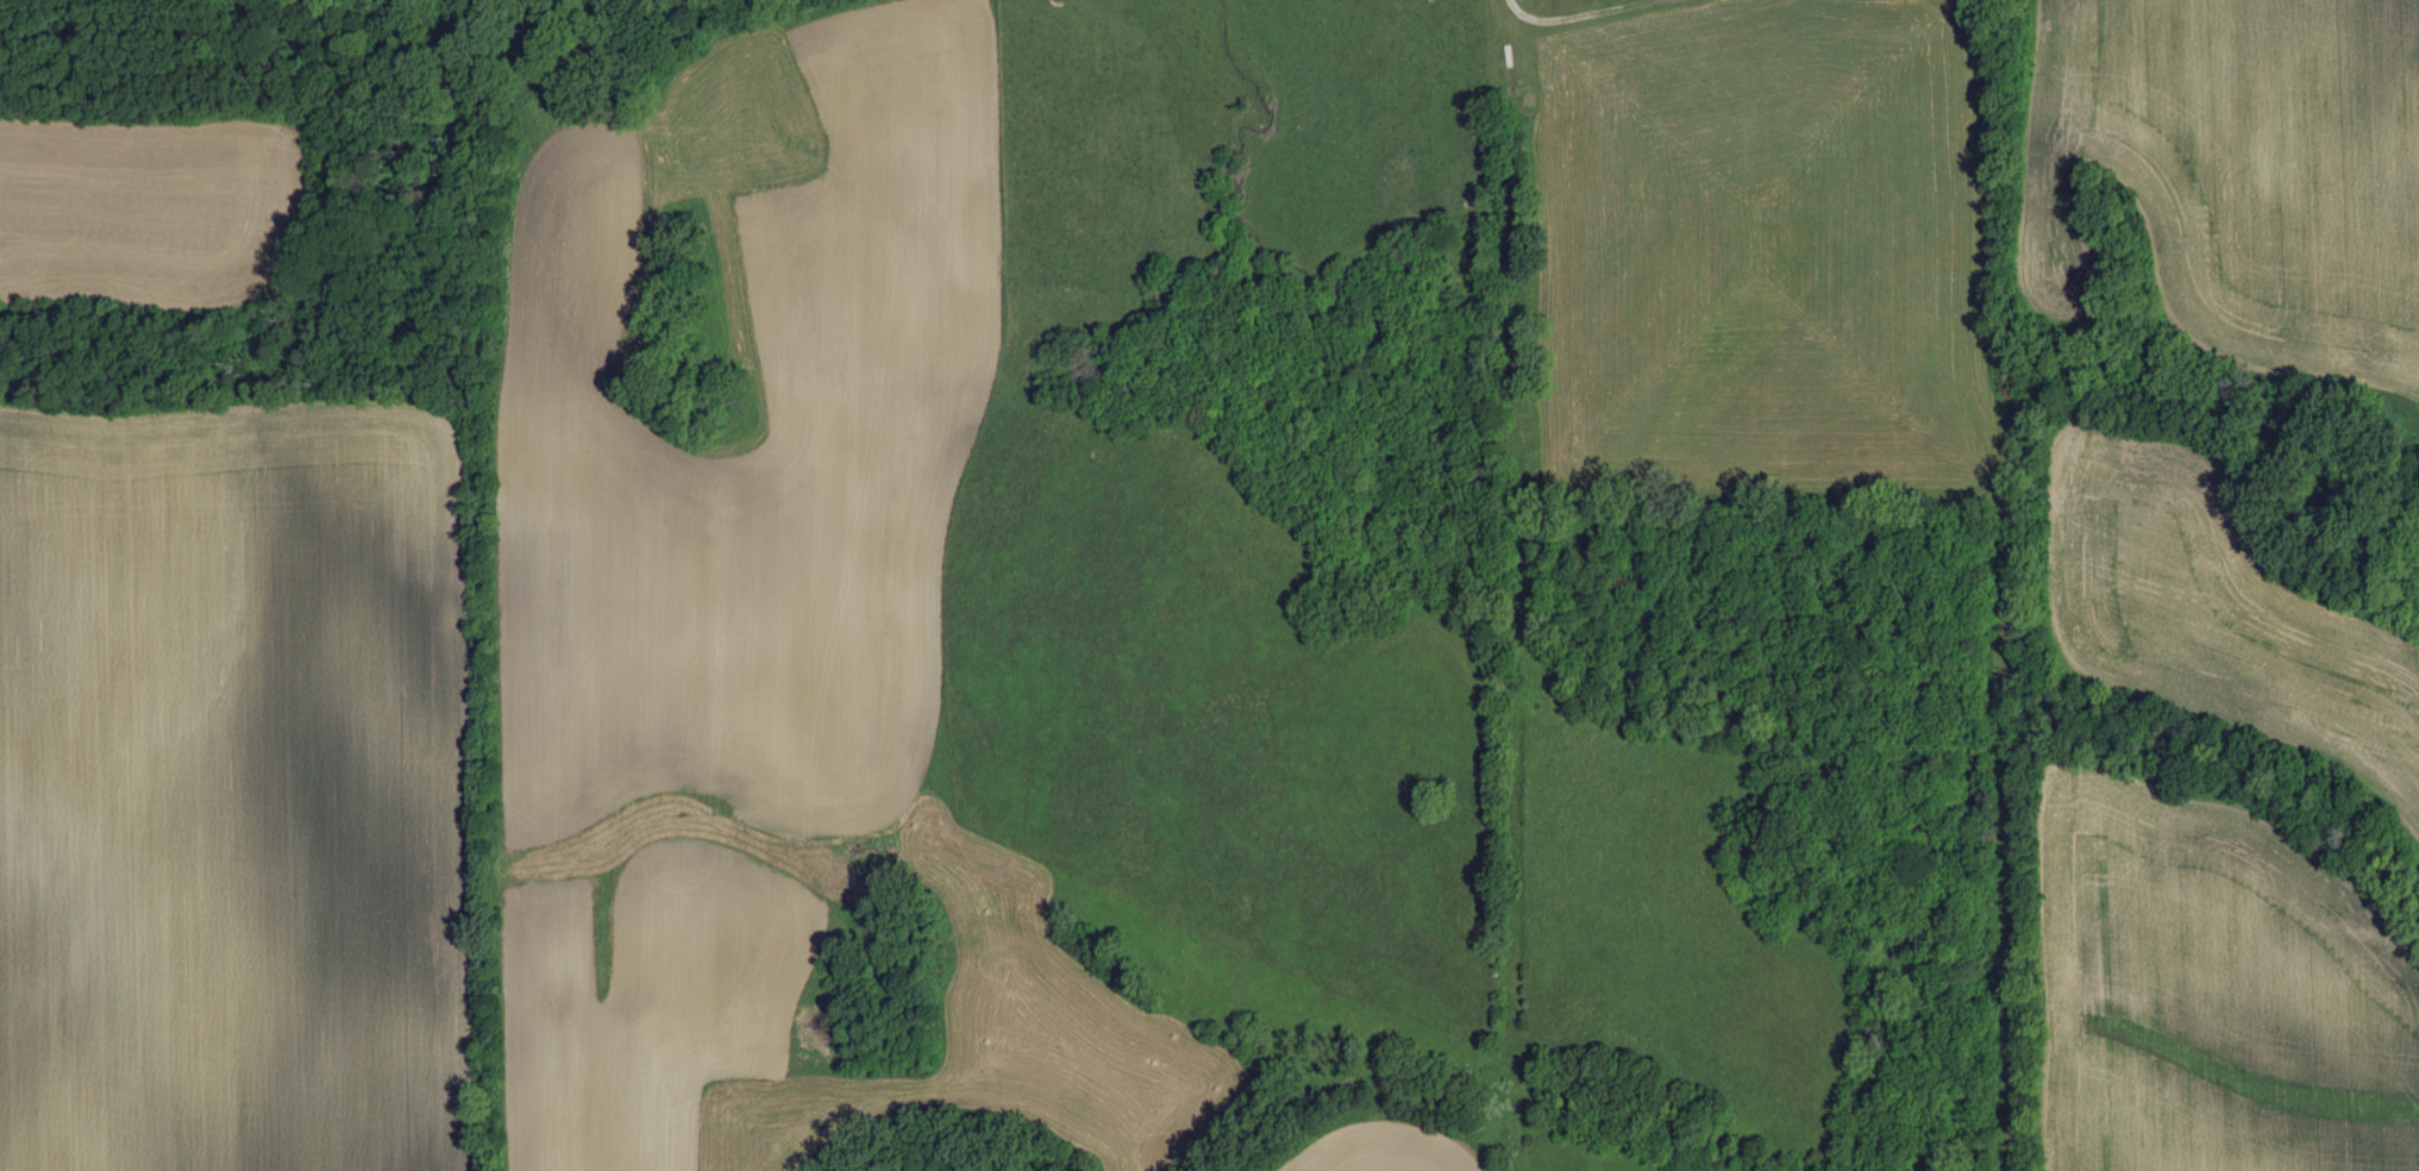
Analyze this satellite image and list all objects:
road: (1500, 1)

